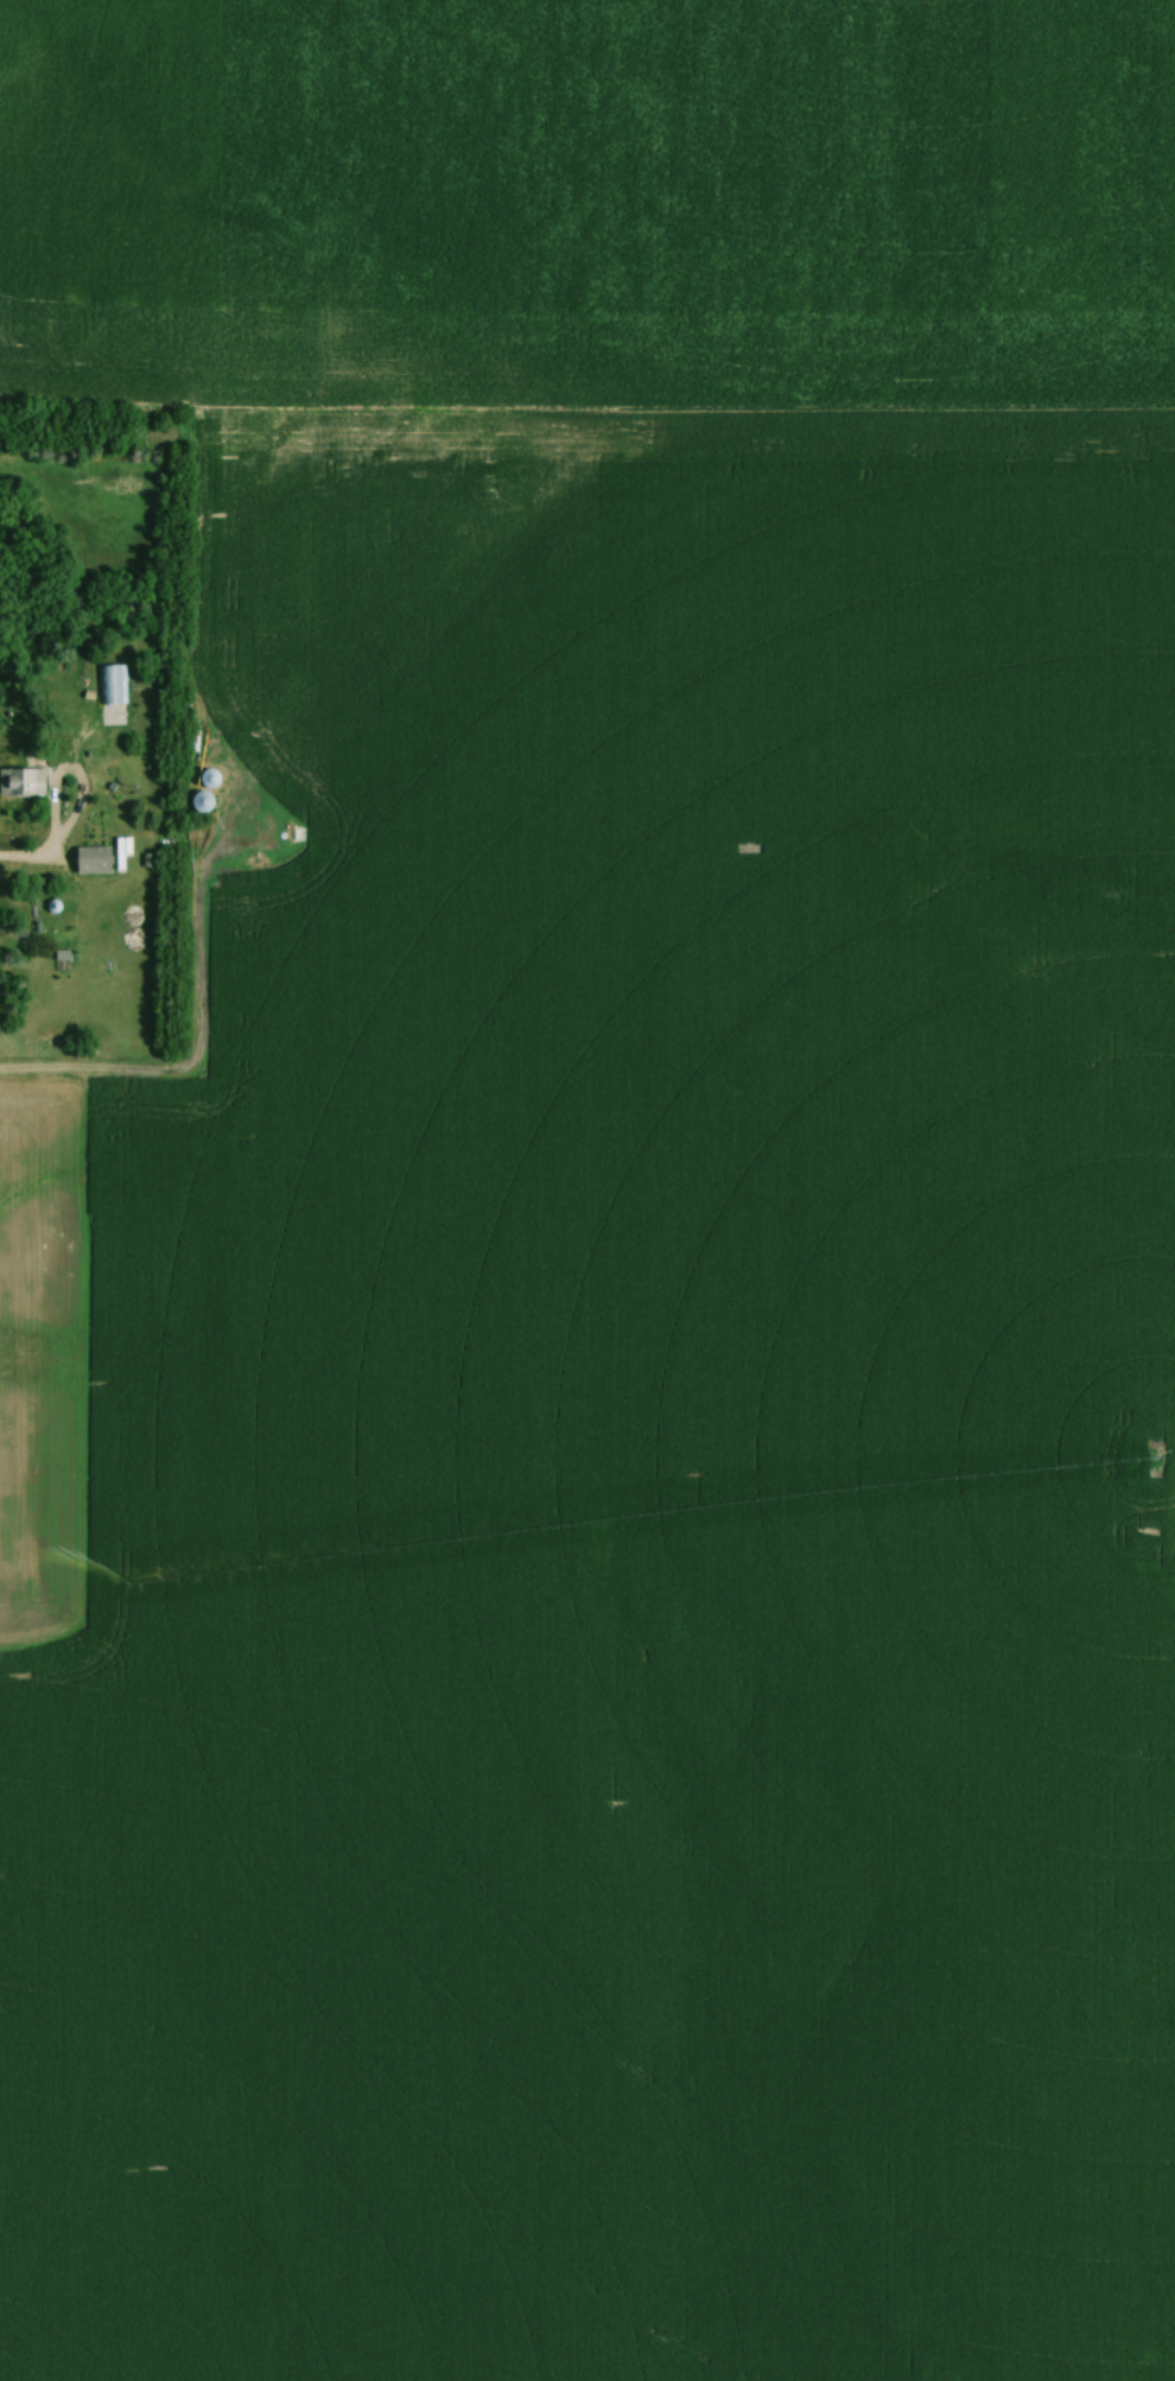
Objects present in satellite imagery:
building: (109, 684)
building: (209, 777)
building: (21, 781)
building: (199, 801)
building: (244, 801)
road: (57, 825)
road: (25, 859)
building: (91, 859)

